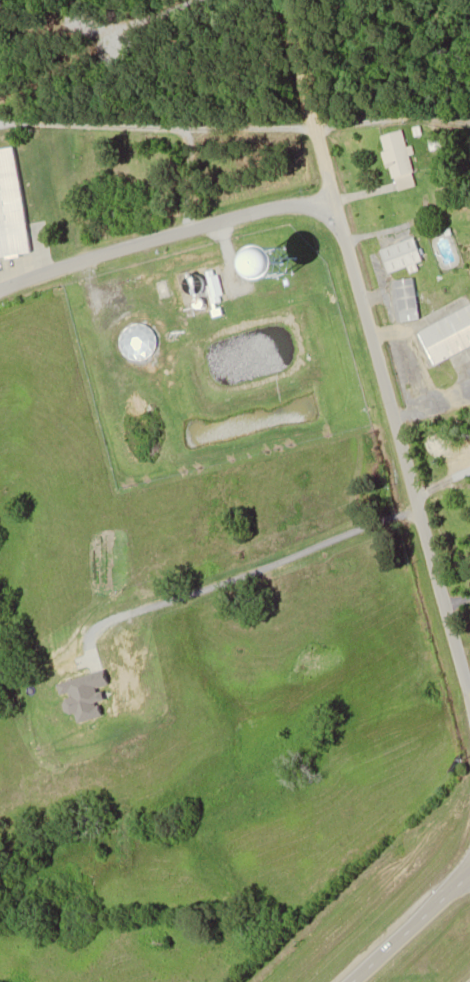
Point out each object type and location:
building: (399, 159)
building: (13, 205)
road: (165, 236)
building: (400, 255)
water tower: (282, 265)
building: (407, 298)
building: (446, 334)
road: (380, 341)
road: (412, 928)

